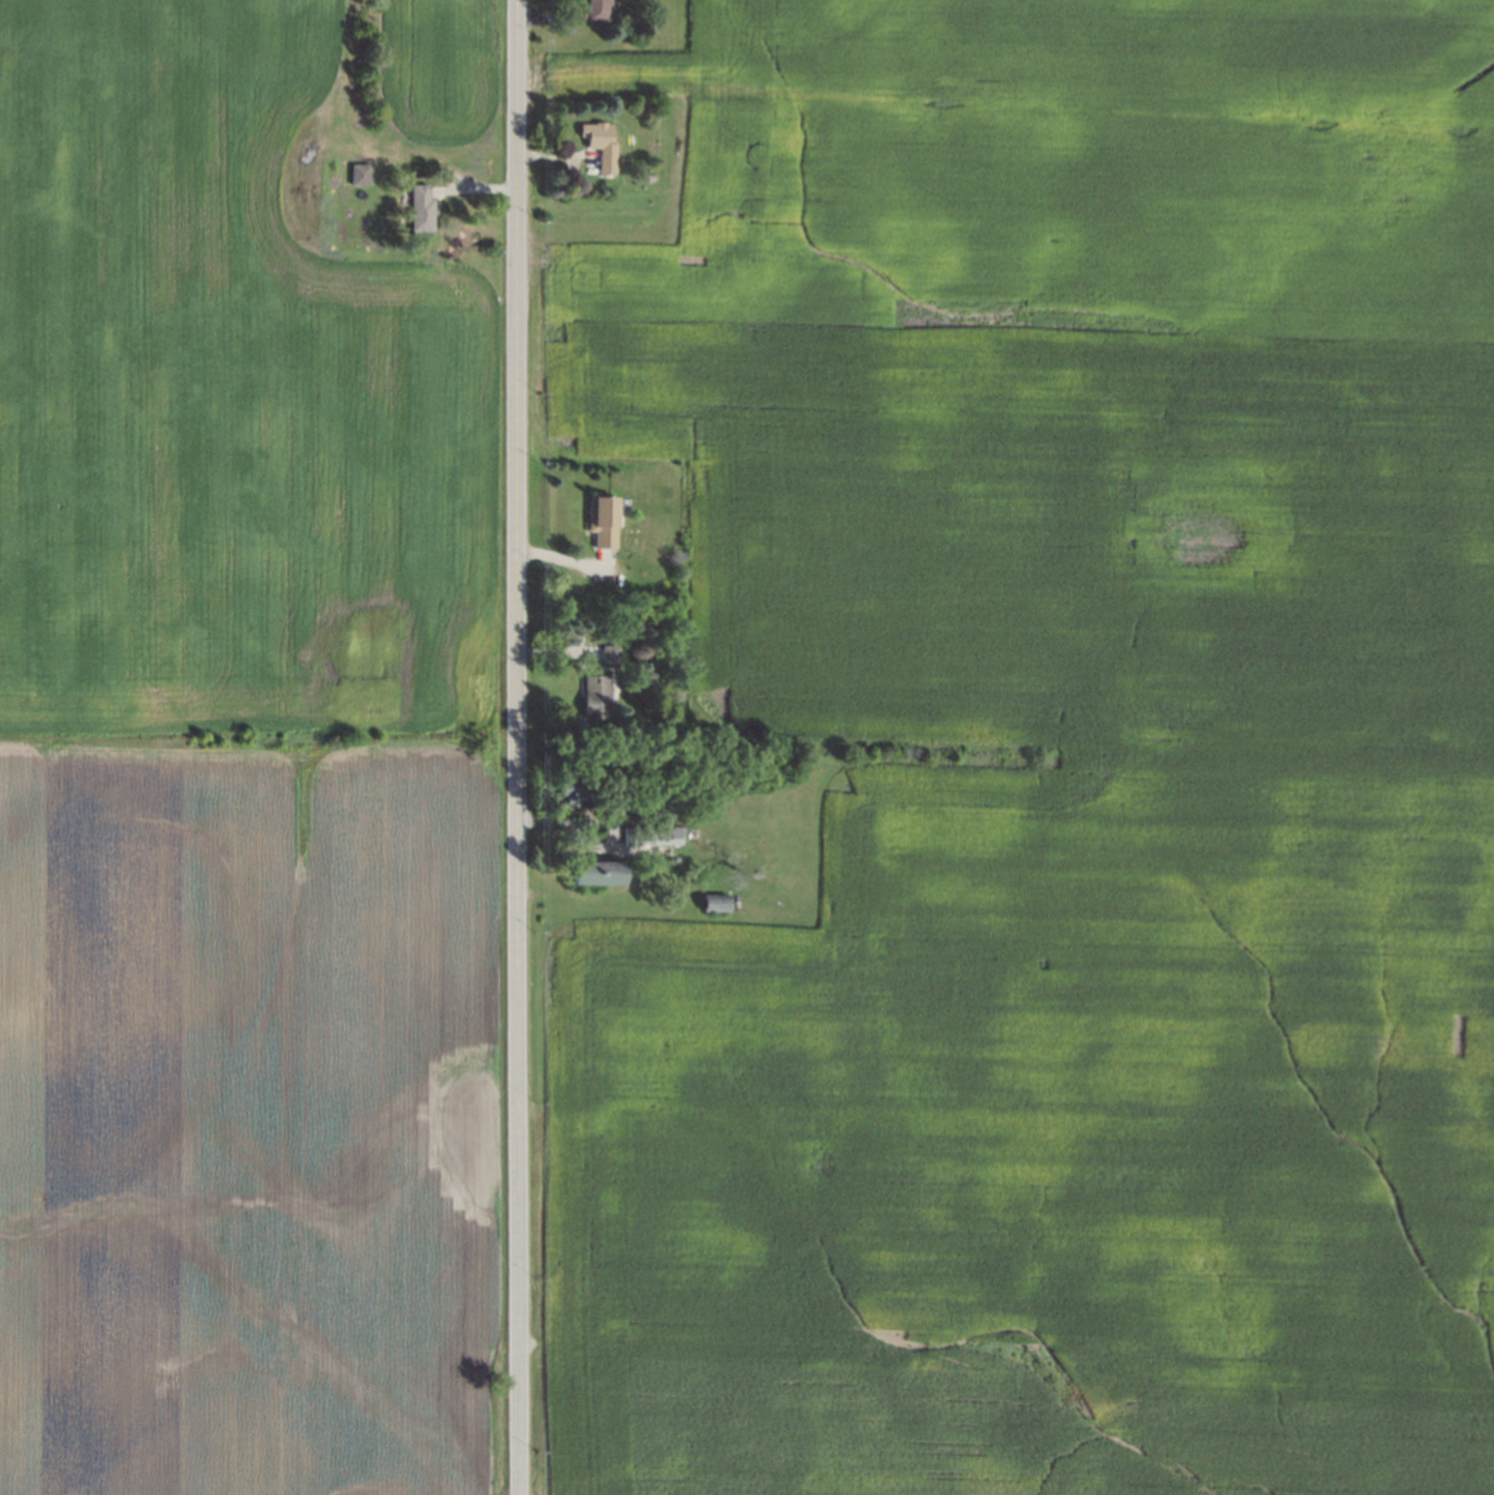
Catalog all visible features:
building: (597, 9)
building: (654, 27)
crop: (440, 67)
building: (600, 141)
building: (360, 177)
building: (646, 177)
building: (422, 213)
crop: (215, 391)
building: (600, 520)
building: (657, 631)
building: (611, 655)
building: (596, 696)
road: (518, 747)
building: (572, 793)
building: (615, 796)
building: (652, 835)
building: (597, 872)
building: (716, 901)
crop: (229, 1123)

